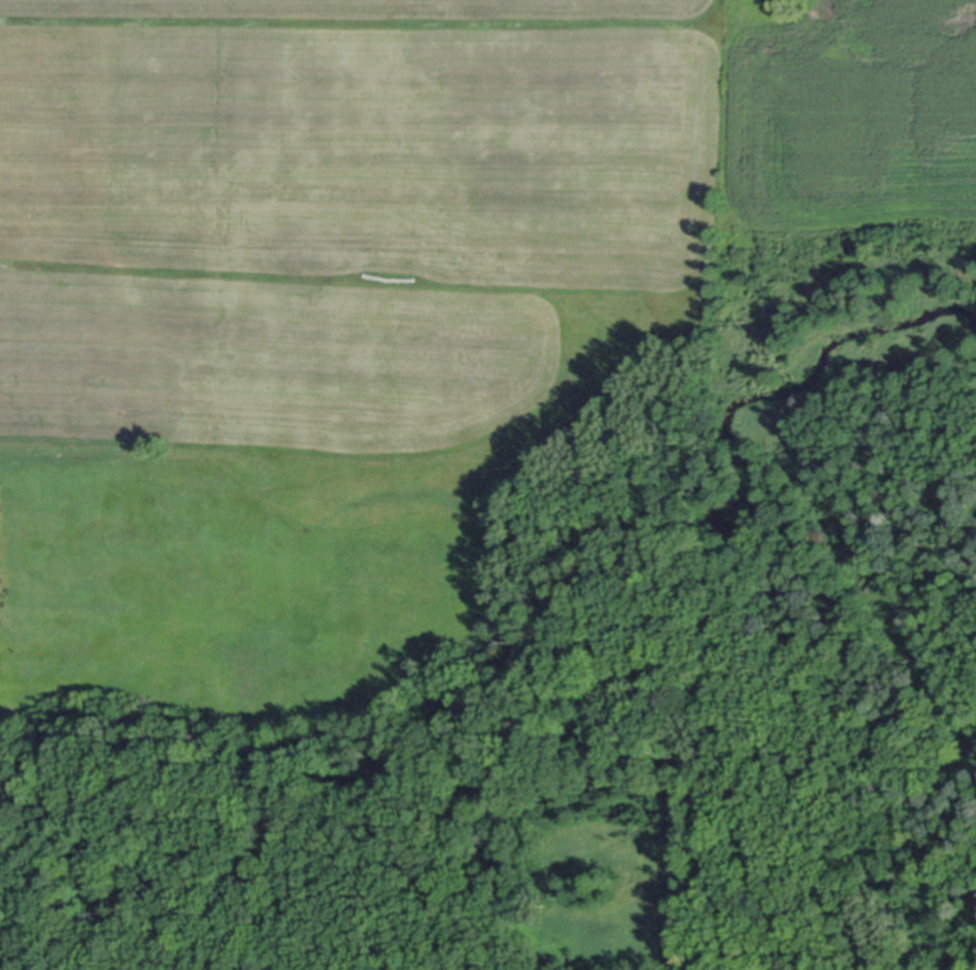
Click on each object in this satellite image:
river: (525, 659)

